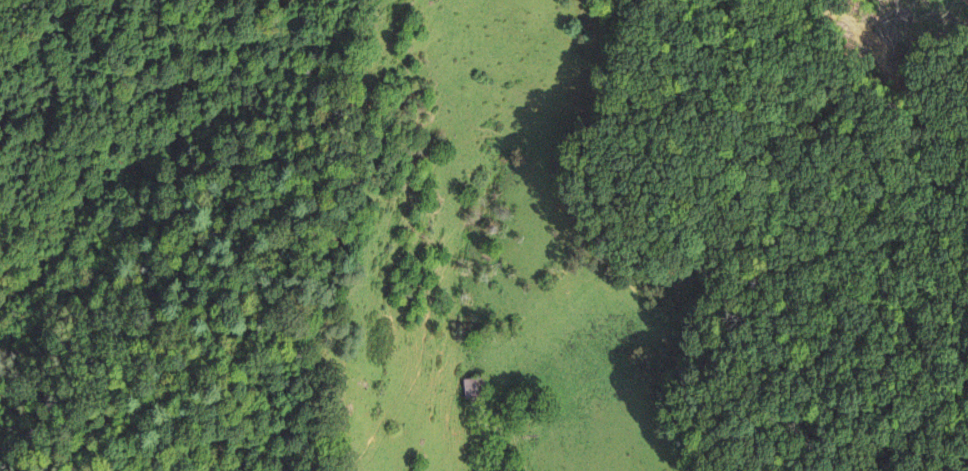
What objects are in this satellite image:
building: (473, 387)
building: (532, 418)

